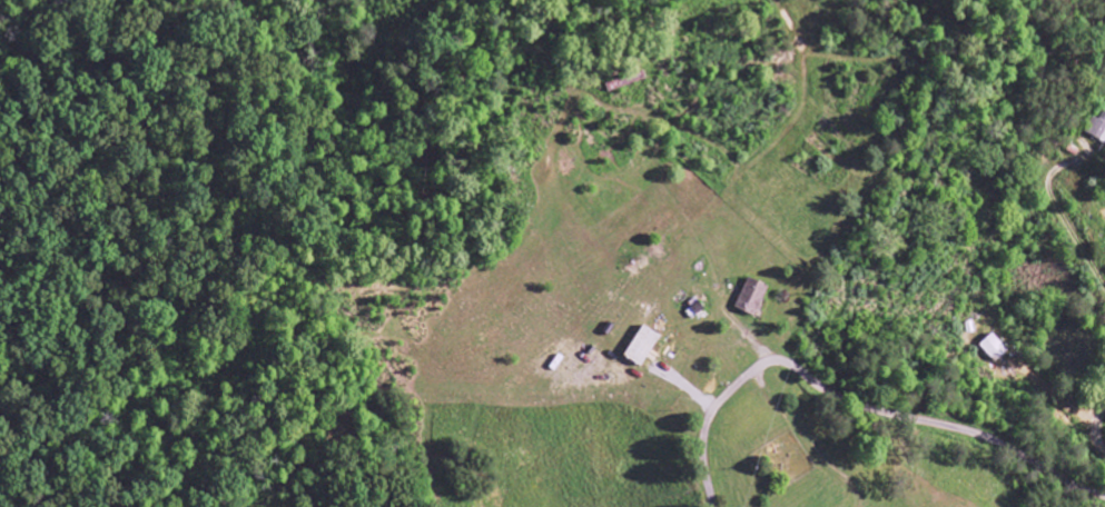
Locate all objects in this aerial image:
building: (751, 297)
building: (643, 346)
building: (994, 348)
road: (1091, 424)

